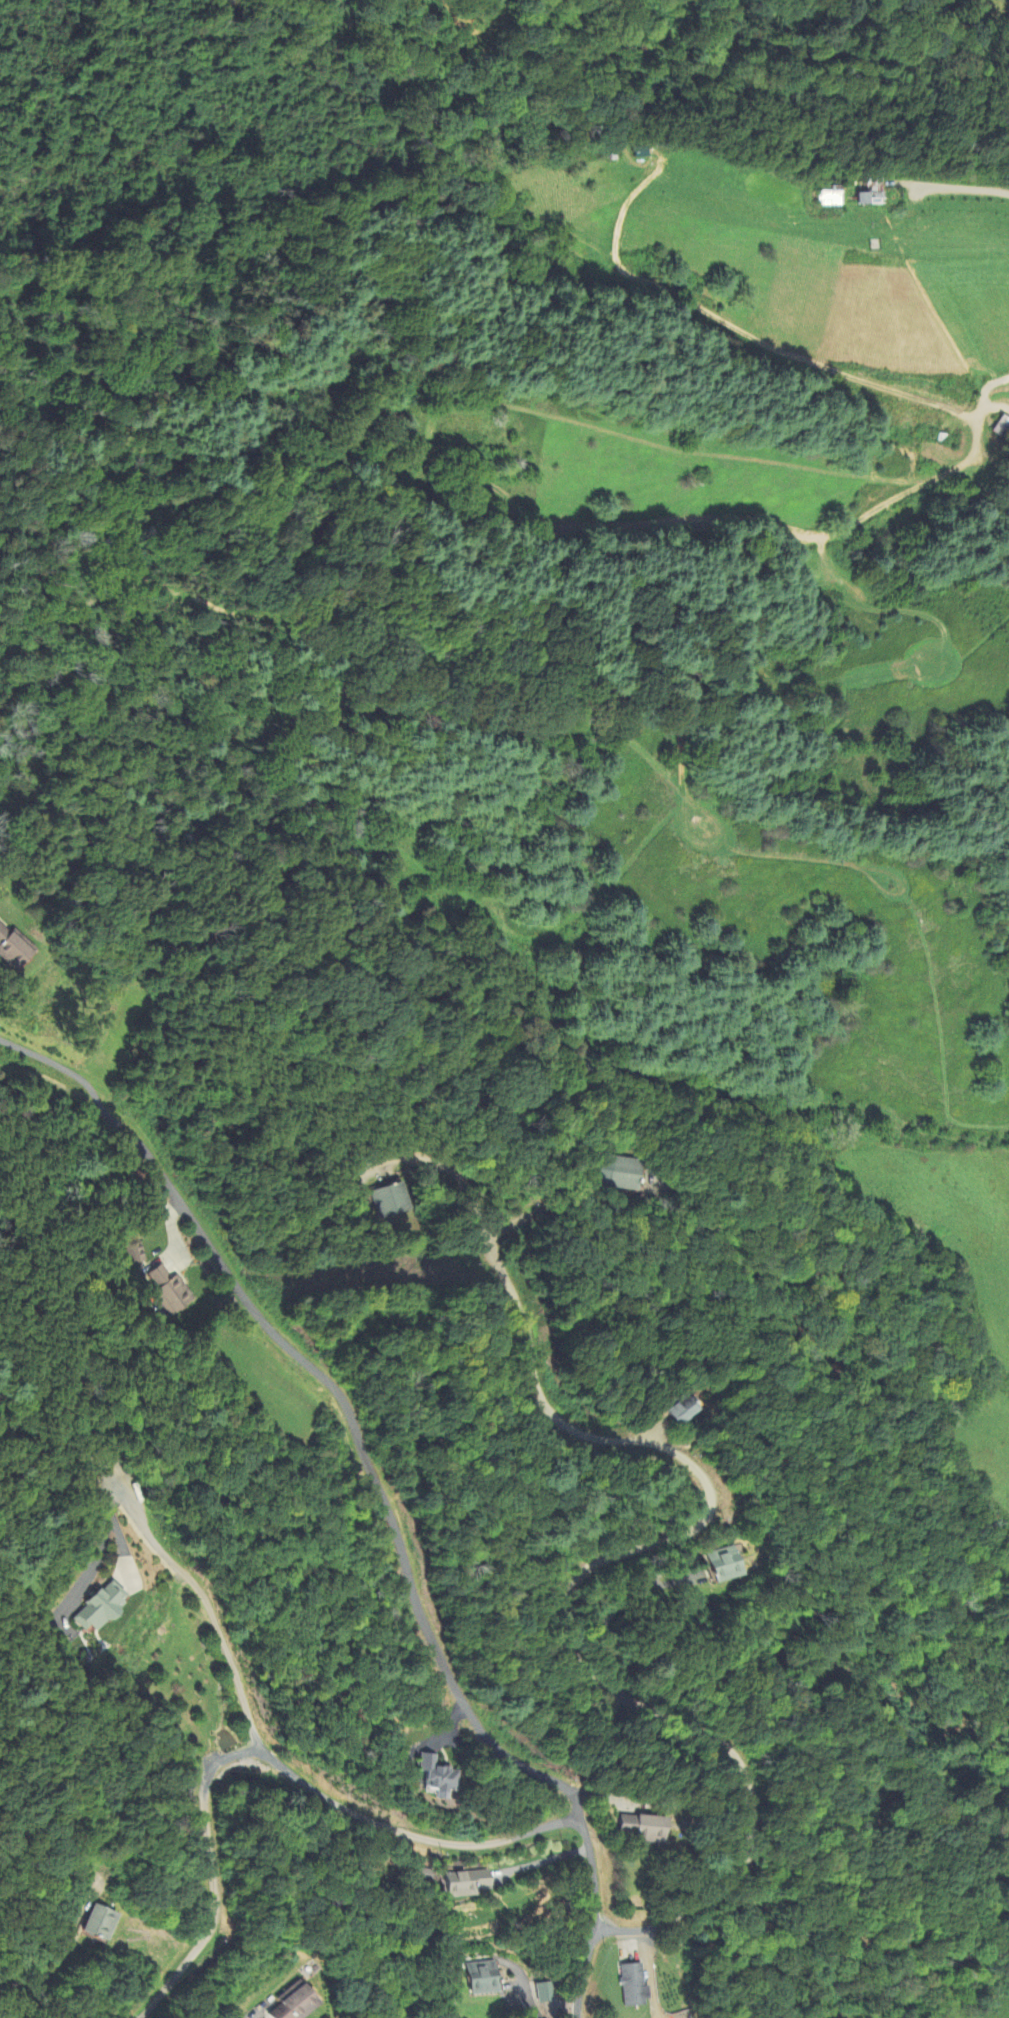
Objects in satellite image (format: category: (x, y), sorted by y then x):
road: (960, 189)
road: (745, 334)
road: (987, 391)
road: (993, 409)
road: (891, 501)
building: (12, 947)
building: (618, 1173)
building: (387, 1200)
road: (582, 1209)
building: (135, 1254)
building: (166, 1292)
building: (676, 1408)
road: (381, 1490)
building: (722, 1565)
road: (568, 1589)
building: (98, 1607)
road: (210, 1615)
road: (266, 1760)
building: (434, 1778)
building: (639, 1828)
building: (464, 1883)
building: (95, 1924)
building: (479, 1978)
building: (630, 1986)
building: (545, 1992)
building: (292, 2004)
building: (265, 2017)

